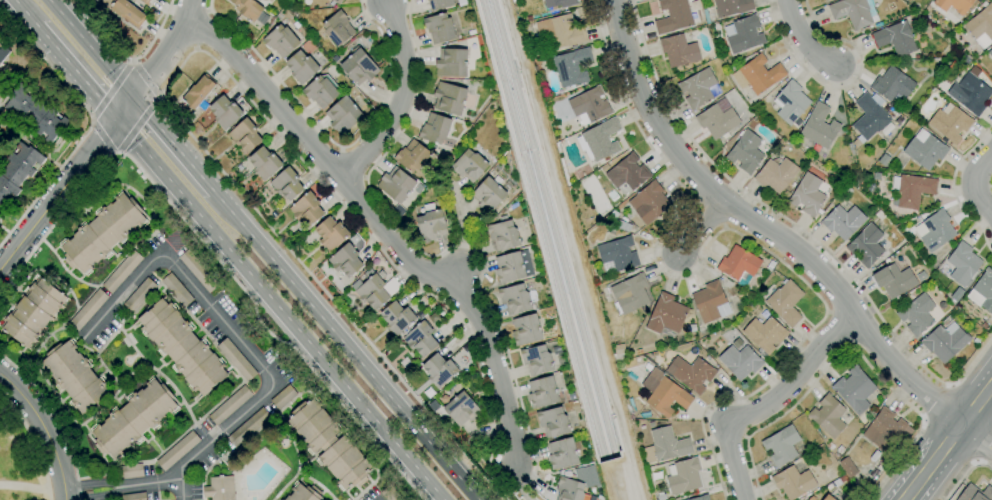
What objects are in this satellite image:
building: (146, 1)
building: (336, 1)
building: (559, 3)
building: (440, 4)
building: (953, 6)
building: (731, 7)
building: (248, 9)
building: (125, 11)
building: (854, 12)
road: (23, 14)
building: (673, 16)
building: (981, 26)
building: (338, 28)
building: (440, 28)
building: (560, 31)
building: (743, 34)
road: (806, 37)
building: (896, 38)
building: (281, 41)
road: (89, 48)
building: (3, 51)
building: (679, 51)
building: (990, 53)
road: (127, 59)
road: (158, 60)
building: (452, 63)
building: (302, 67)
building: (359, 67)
building: (570, 67)
road: (76, 74)
building: (757, 75)
road: (146, 80)
building: (892, 85)
road: (841, 87)
building: (698, 88)
building: (970, 91)
building: (198, 92)
building: (320, 92)
road: (399, 96)
building: (449, 98)
building: (790, 103)
building: (589, 106)
building: (225, 112)
building: (36, 114)
building: (343, 115)
building: (869, 117)
building: (717, 121)
building: (950, 123)
road: (90, 125)
building: (819, 127)
building: (435, 128)
building: (245, 135)
road: (103, 138)
building: (599, 140)
road: (329, 141)
road: (172, 145)
building: (925, 150)
building: (745, 152)
building: (412, 156)
building: (883, 160)
building: (264, 163)
building: (470, 166)
building: (18, 171)
building: (627, 174)
building: (776, 174)
road: (976, 183)
building: (287, 184)
building: (396, 184)
road: (954, 187)
building: (912, 190)
road: (57, 193)
building: (489, 195)
building: (807, 195)
building: (648, 201)
building: (307, 209)
building: (612, 214)
building: (843, 222)
building: (431, 223)
road: (701, 224)
road: (764, 225)
building: (622, 226)
road: (793, 227)
road: (383, 228)
railway: (552, 228)
railway: (540, 230)
building: (935, 230)
building: (103, 232)
building: (331, 232)
road: (718, 233)
building: (503, 235)
building: (866, 246)
road: (213, 255)
building: (616, 255)
building: (346, 260)
building: (738, 263)
building: (963, 264)
road: (394, 267)
building: (509, 268)
building: (122, 271)
building: (198, 271)
building: (893, 280)
building: (177, 290)
building: (376, 290)
building: (983, 291)
building: (629, 294)
building: (957, 294)
building: (140, 295)
building: (515, 298)
building: (710, 302)
building: (785, 303)
road: (278, 309)
building: (88, 310)
building: (33, 312)
building: (666, 314)
building: (917, 315)
building: (397, 318)
building: (526, 329)
road: (233, 333)
building: (764, 334)
building: (420, 339)
building: (945, 342)
road: (344, 346)
building: (182, 347)
road: (849, 347)
building: (236, 360)
building: (536, 360)
building: (740, 361)
building: (439, 370)
building: (691, 373)
building: (74, 376)
building: (855, 389)
building: (542, 392)
building: (664, 393)
building: (283, 396)
road: (764, 400)
road: (935, 400)
road: (977, 402)
building: (230, 405)
building: (462, 409)
building: (828, 416)
building: (134, 418)
road: (54, 419)
building: (553, 422)
building: (248, 427)
building: (884, 429)
road: (42, 433)
road: (977, 433)
road: (33, 443)
building: (329, 444)
building: (781, 445)
building: (665, 446)
building: (178, 451)
road: (983, 452)
building: (562, 453)
park: (20, 457)
road: (934, 458)
building: (130, 471)
road: (965, 473)
building: (586, 476)
building: (684, 476)
road: (497, 481)
road: (149, 482)
building: (793, 482)
road: (24, 486)
building: (219, 488)
building: (570, 490)
building: (302, 493)
building: (390, 493)
building: (975, 493)
road: (64, 494)
building: (134, 496)
road: (904, 497)
building: (700, 498)
building: (809, 498)
building: (811, 498)
building: (829, 498)

